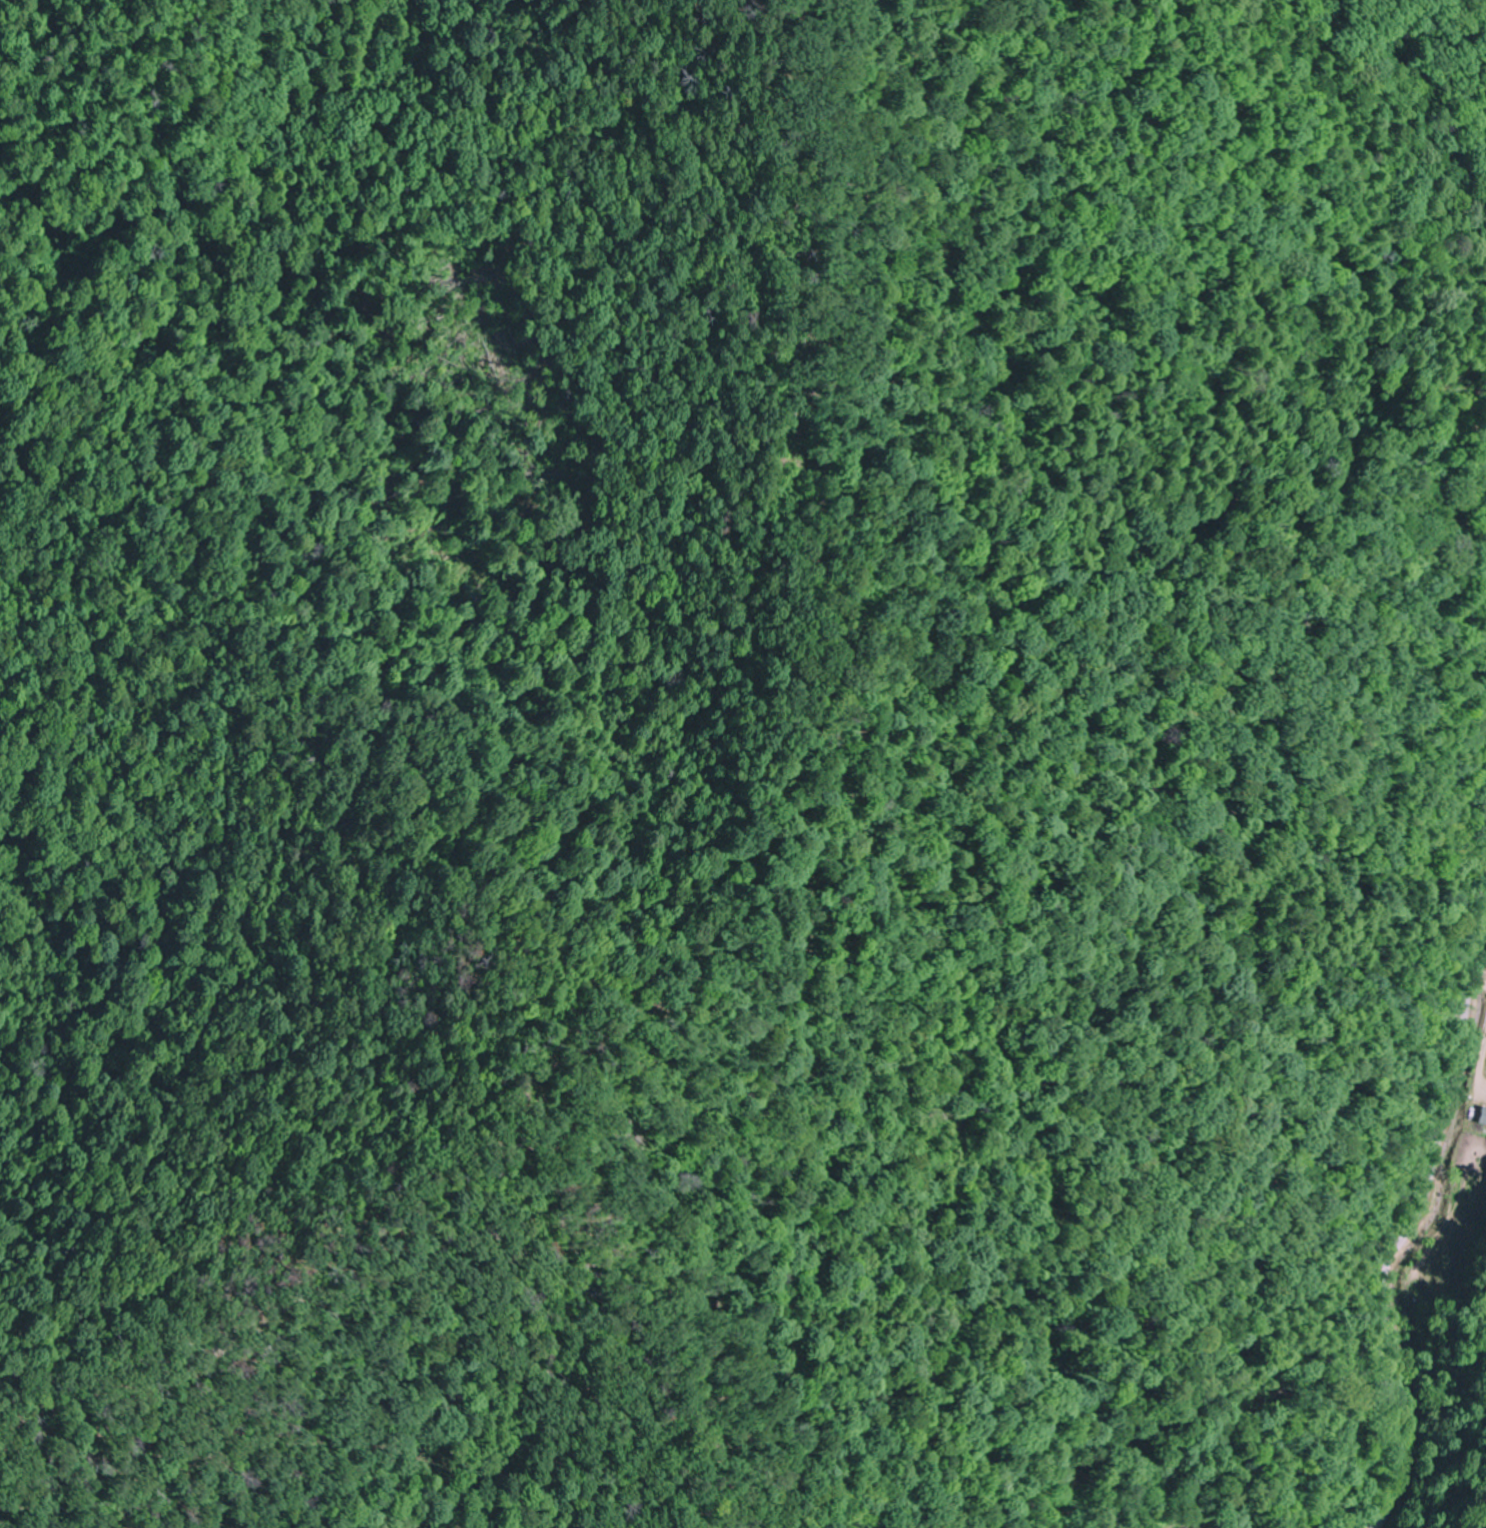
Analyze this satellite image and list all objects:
building: (1482, 1117)
road: (1417, 1197)

